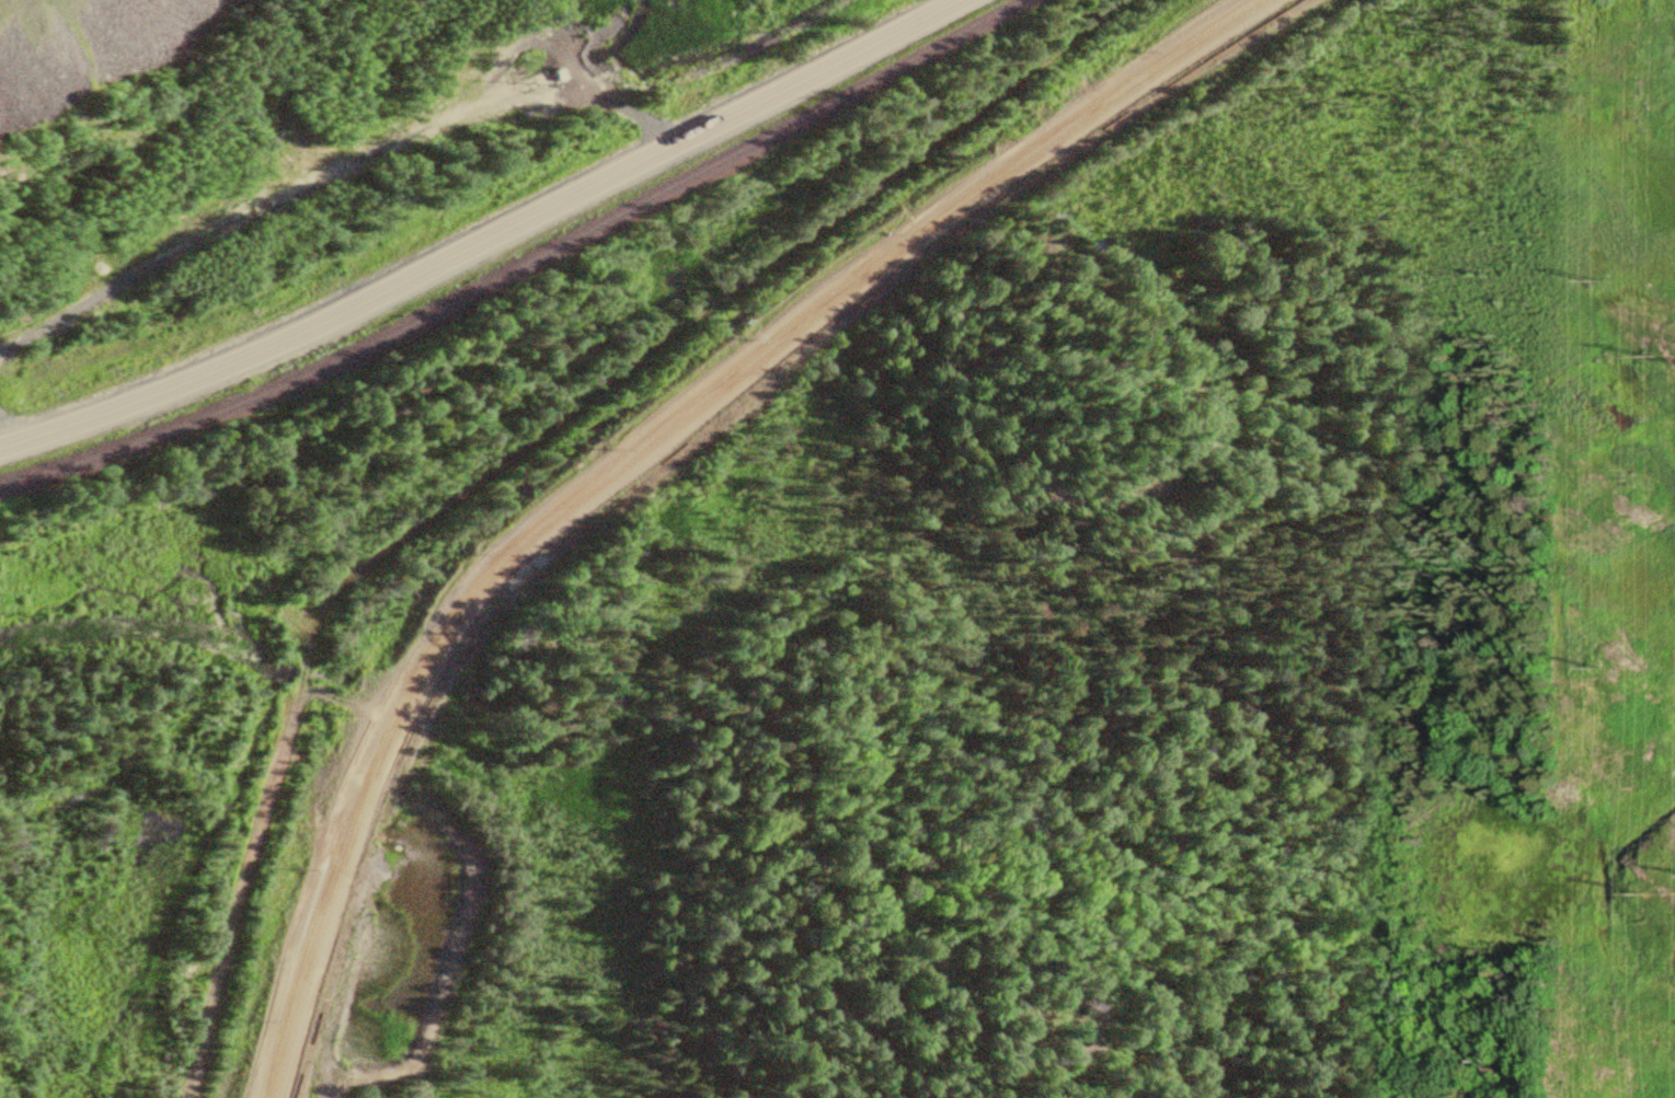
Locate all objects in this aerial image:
quarry: (93, 42)
road: (480, 241)
railway: (514, 266)
road: (609, 462)

